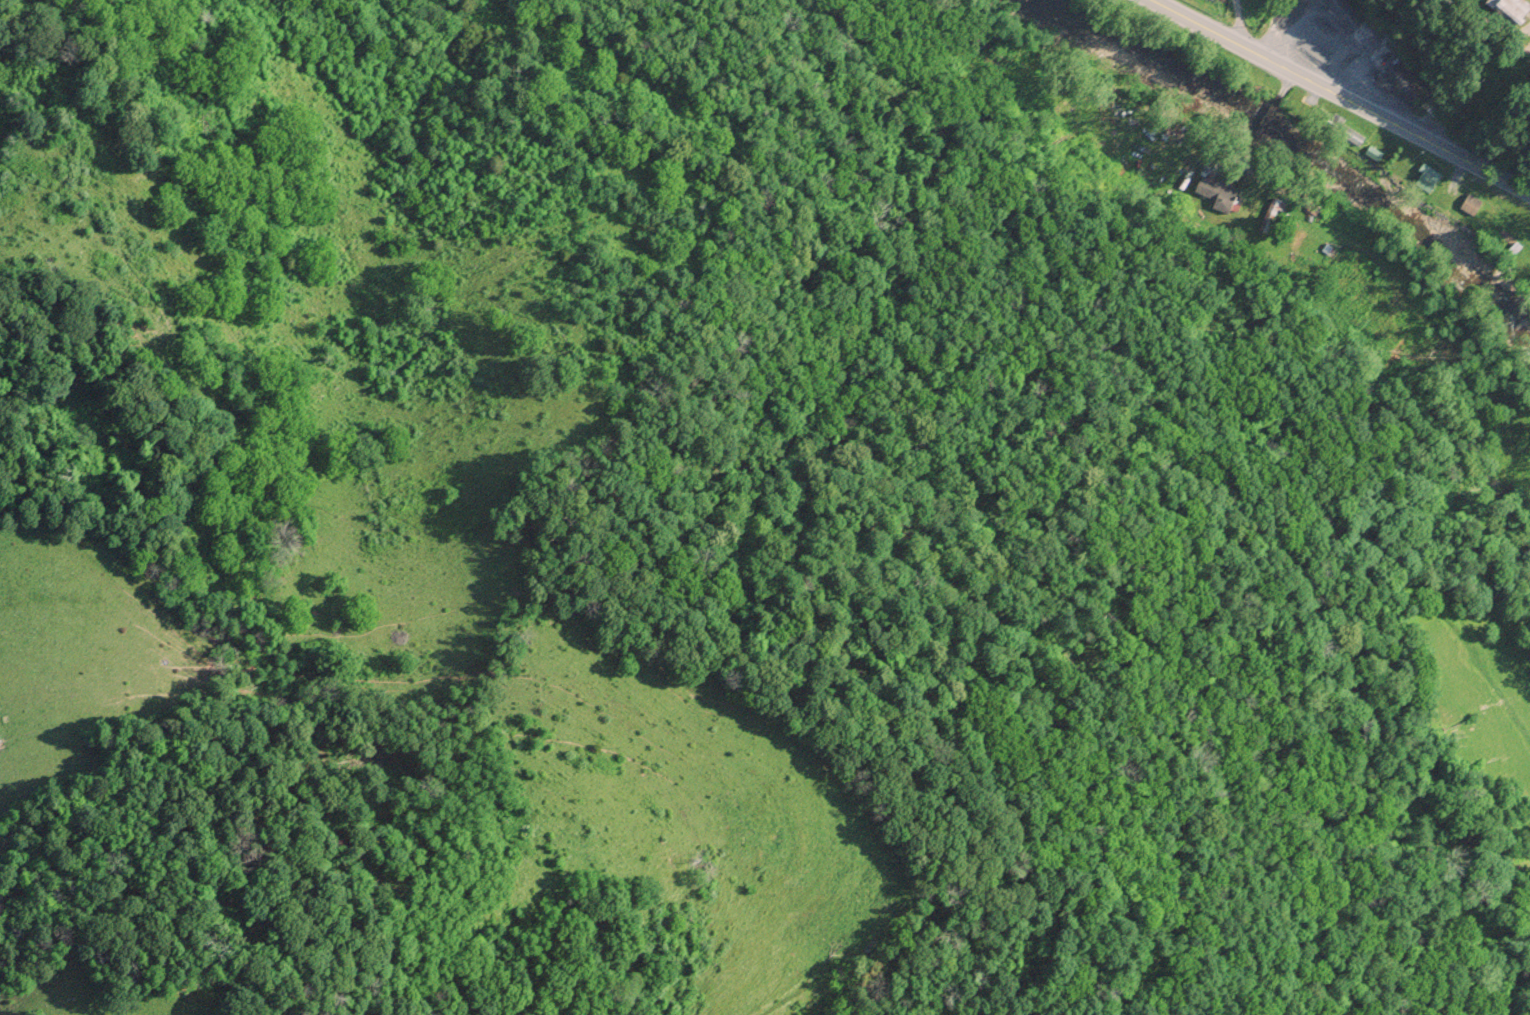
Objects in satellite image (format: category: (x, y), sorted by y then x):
crop: (1473, 2)
building: (1503, 8)
building: (1344, 13)
road: (1238, 23)
road: (1488, 24)
building: (1397, 82)
road: (1339, 98)
building: (1340, 129)
river: (1292, 149)
building: (1373, 153)
building: (1427, 178)
building: (1219, 196)
building: (1470, 205)
building: (1269, 215)

